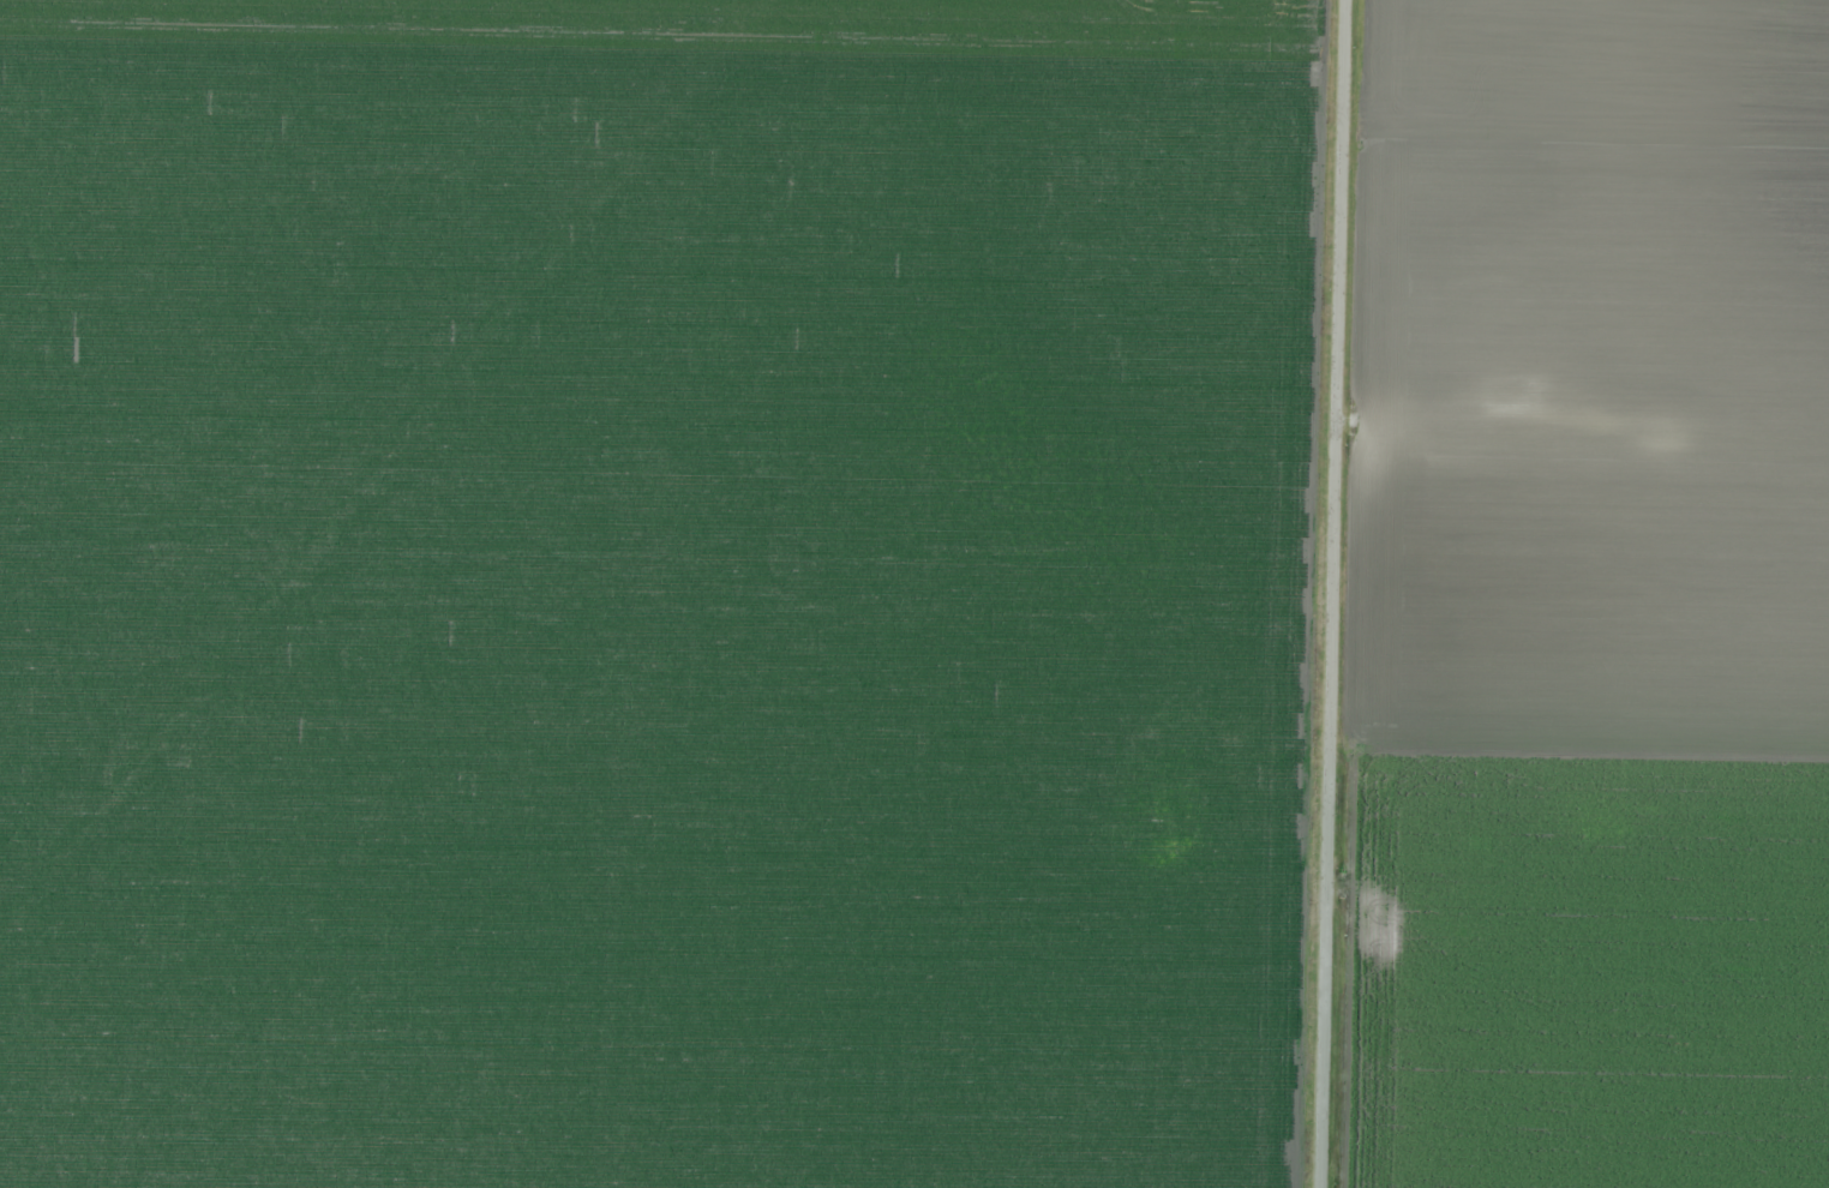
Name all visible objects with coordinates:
road: (1324, 594)

